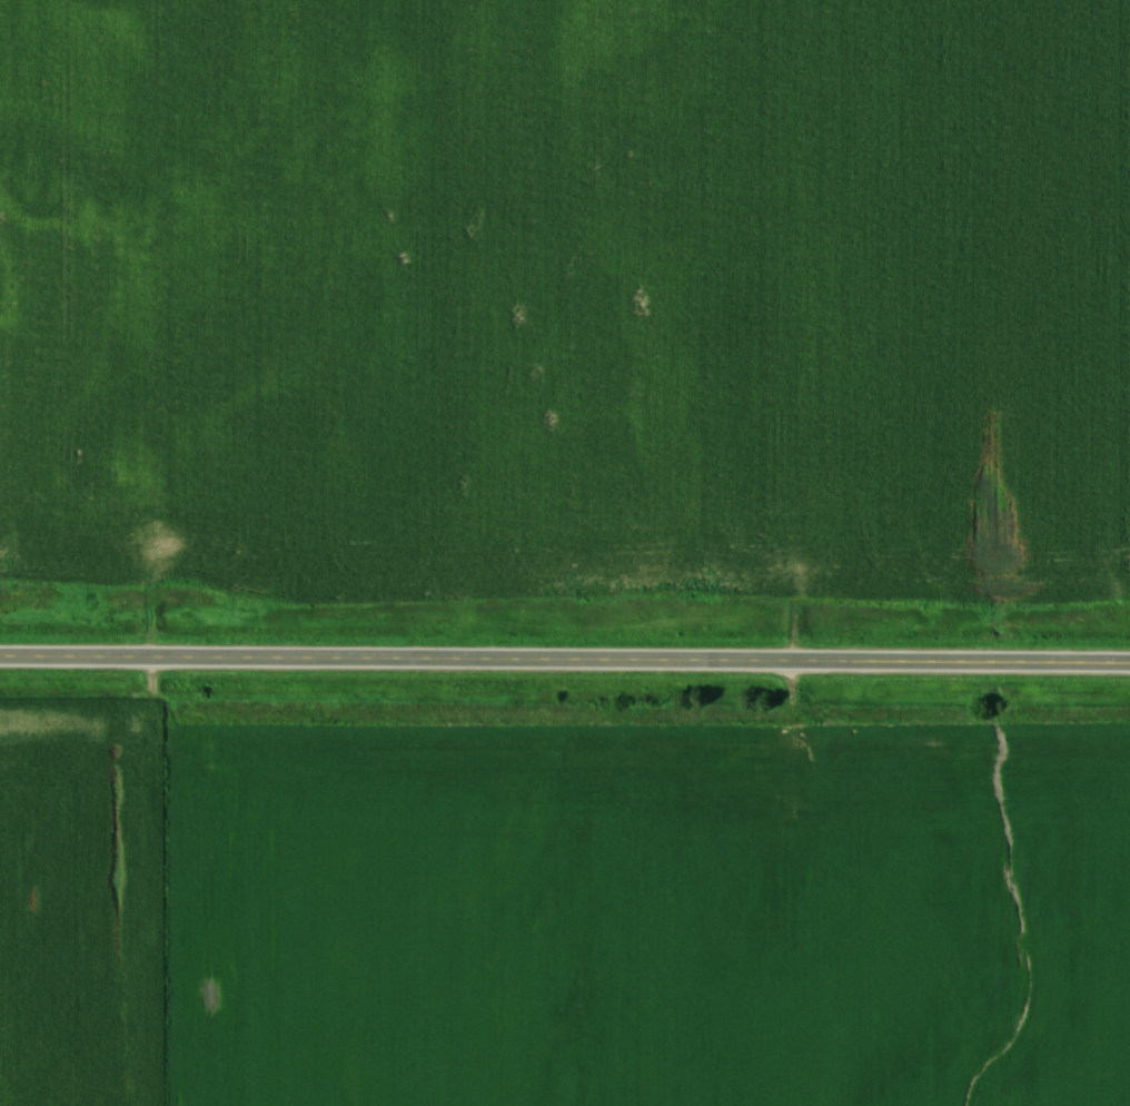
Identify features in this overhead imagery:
road: (565, 645)

